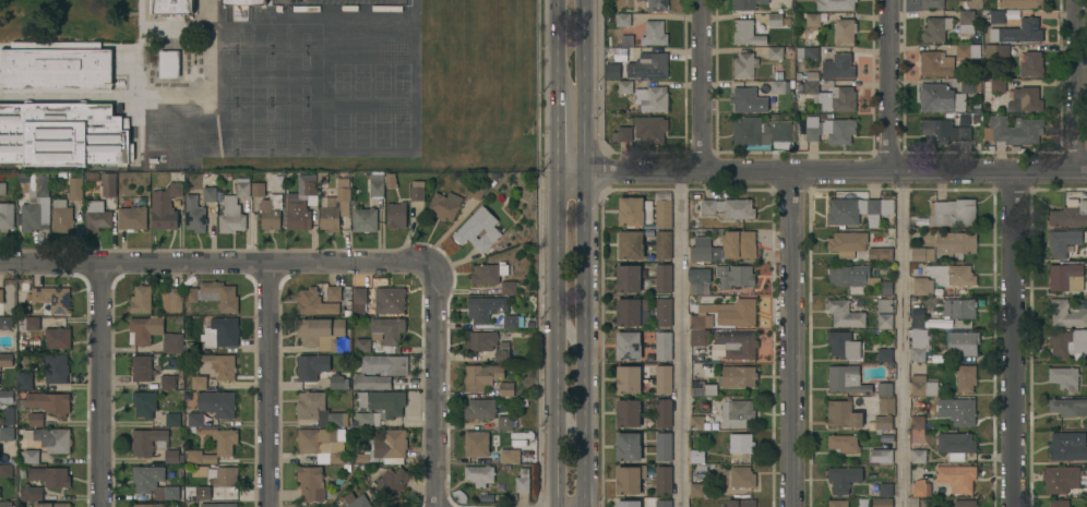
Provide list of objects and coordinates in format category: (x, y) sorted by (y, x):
building: (640, 1)
building: (243, 2)
building: (932, 3)
building: (1020, 3)
building: (746, 4)
building: (836, 4)
building: (657, 5)
building: (171, 7)
building: (996, 16)
building: (775, 19)
building: (623, 20)
building: (812, 20)
building: (966, 21)
building: (936, 28)
building: (845, 31)
building: (1018, 32)
building: (655, 33)
building: (745, 33)
road: (558, 40)
building: (967, 50)
building: (998, 50)
building: (775, 52)
building: (807, 52)
building: (617, 53)
building: (169, 63)
building: (935, 63)
building: (1031, 63)
building: (744, 64)
building: (56, 65)
building: (648, 65)
building: (838, 67)
building: (612, 70)
building: (811, 82)
building: (970, 84)
building: (998, 85)
building: (624, 86)
road: (706, 86)
building: (777, 86)
road: (888, 86)
road: (1082, 86)
building: (940, 97)
building: (650, 99)
building: (745, 99)
building: (837, 99)
building: (1025, 99)
road: (558, 126)
building: (650, 130)
building: (831, 130)
building: (1013, 130)
building: (944, 131)
building: (761, 132)
building: (622, 133)
building: (63, 134)
road: (822, 172)
building: (391, 181)
building: (108, 183)
building: (2, 188)
building: (75, 189)
building: (258, 189)
building: (477, 191)
building: (417, 192)
building: (210, 194)
building: (373, 202)
building: (36, 203)
building: (301, 203)
building: (445, 205)
building: (165, 206)
building: (335, 206)
building: (730, 207)
building: (879, 207)
building: (234, 208)
building: (662, 209)
building: (634, 210)
building: (271, 212)
building: (843, 212)
building: (953, 213)
building: (396, 214)
building: (195, 215)
building: (1070, 215)
building: (7, 216)
building: (61, 216)
building: (132, 218)
building: (97, 219)
building: (478, 229)
building: (956, 242)
building: (739, 243)
building: (1065, 243)
building: (631, 244)
building: (662, 244)
building: (847, 244)
building: (701, 250)
road: (586, 253)
building: (880, 253)
building: (922, 253)
road: (218, 263)
building: (488, 273)
building: (848, 275)
building: (960, 275)
building: (737, 276)
building: (1065, 277)
building: (629, 278)
building: (664, 278)
building: (922, 286)
building: (509, 287)
building: (700, 288)
building: (885, 288)
building: (334, 293)
building: (214, 294)
building: (1, 295)
building: (50, 299)
building: (141, 300)
building: (172, 300)
building: (390, 300)
building: (314, 303)
building: (357, 303)
building: (885, 305)
building: (486, 307)
building: (958, 307)
building: (632, 312)
building: (664, 312)
building: (845, 313)
building: (1066, 313)
building: (725, 314)
building: (918, 319)
building: (885, 321)
building: (5, 322)
building: (512, 322)
building: (28, 323)
building: (387, 330)
building: (222, 331)
building: (155, 333)
building: (322, 334)
building: (57, 337)
building: (697, 337)
road: (557, 339)
road: (681, 339)
road: (790, 339)
road: (904, 339)
road: (1017, 339)
building: (480, 341)
building: (963, 342)
building: (738, 343)
building: (1068, 343)
building: (363, 345)
building: (843, 345)
building: (919, 345)
building: (628, 346)
building: (664, 346)
building: (503, 351)
building: (885, 354)
building: (7, 359)
building: (385, 364)
building: (219, 365)
building: (311, 366)
building: (56, 367)
building: (142, 369)
building: (481, 376)
building: (737, 376)
building: (966, 377)
building: (1064, 377)
building: (662, 378)
building: (24, 379)
building: (629, 379)
building: (846, 379)
building: (167, 382)
building: (338, 382)
building: (371, 382)
building: (199, 383)
road: (437, 384)
road: (266, 385)
road: (100, 386)
building: (922, 386)
building: (506, 388)
building: (703, 388)
building: (885, 388)
building: (7, 396)
building: (49, 402)
building: (144, 403)
building: (217, 403)
building: (887, 406)
building: (379, 407)
building: (1068, 407)
building: (480, 409)
building: (319, 410)
building: (965, 411)
building: (737, 412)
building: (628, 413)
building: (664, 413)
building: (843, 414)
building: (10, 415)
building: (36, 419)
building: (195, 419)
building: (172, 420)
building: (505, 422)
building: (698, 422)
building: (883, 422)
building: (918, 422)
building: (7, 433)
building: (50, 438)
building: (148, 440)
building: (741, 443)
building: (843, 443)
building: (323, 444)
building: (477, 444)
building: (956, 444)
building: (664, 445)
building: (1067, 445)
building: (225, 446)
building: (628, 446)
building: (384, 447)
building: (918, 455)
building: (29, 456)
building: (172, 456)
building: (507, 456)
building: (882, 456)
building: (697, 458)
building: (5, 470)
building: (200, 471)
building: (479, 474)
building: (50, 475)
building: (225, 476)
building: (742, 476)
building: (957, 476)
building: (844, 478)
building: (1063, 478)
building: (630, 479)
building: (523, 480)
building: (662, 480)
building: (311, 482)
building: (154, 483)
building: (393, 484)
building: (501, 486)
building: (921, 487)
building: (700, 488)
building: (885, 490)
building: (203, 492)
building: (31, 493)
building: (487, 497)
building: (357, 500)
building: (882, 502)
building: (913, 502)
building: (629, 503)
building: (664, 503)
building: (741, 503)
building: (837, 503)
building: (965, 503)
building: (1059, 503)
building: (5, 504)
building: (51, 505)
building: (148, 505)
building: (218, 505)

